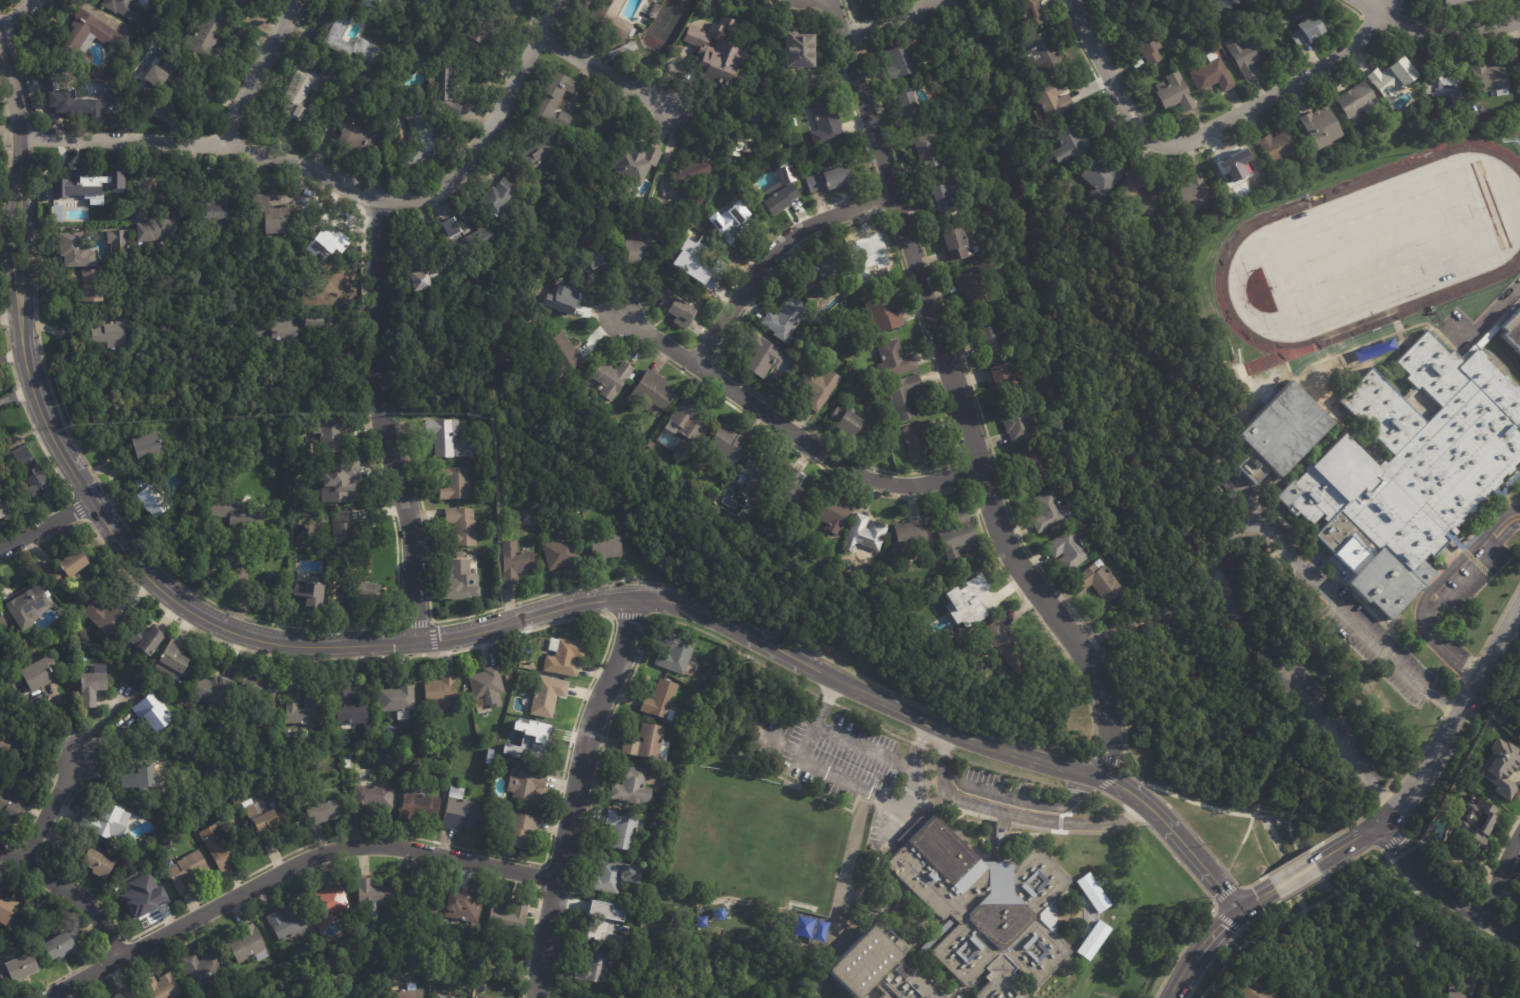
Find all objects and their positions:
road: (938, 0)
building: (1229, 1)
building: (1163, 2)
building: (1446, 2)
building: (250, 3)
building: (1128, 3)
building: (377, 5)
building: (125, 8)
building: (656, 10)
building: (1037, 11)
road: (15, 15)
building: (613, 18)
road: (892, 20)
building: (476, 25)
road: (1441, 25)
building: (1307, 30)
building: (207, 35)
building: (89, 36)
building: (340, 38)
building: (764, 40)
building: (1214, 46)
building: (1145, 47)
building: (801, 49)
building: (624, 50)
building: (720, 50)
building: (1046, 50)
building: (1243, 54)
building: (903, 61)
building: (1518, 69)
road: (258, 71)
road: (606, 73)
building: (1210, 73)
building: (1390, 76)
building: (1490, 78)
building: (1444, 85)
building: (446, 90)
building: (158, 91)
building: (302, 91)
building: (1173, 93)
building: (94, 95)
building: (1056, 99)
building: (558, 101)
building: (1356, 102)
road: (15, 105)
building: (913, 110)
building: (826, 123)
building: (1319, 127)
road: (489, 129)
road: (1210, 130)
building: (361, 137)
building: (420, 138)
building: (738, 141)
road: (201, 142)
building: (1074, 142)
building: (1273, 146)
building: (931, 150)
building: (538, 158)
building: (633, 165)
building: (1236, 168)
building: (1104, 178)
building: (693, 179)
building: (832, 179)
building: (78, 185)
building: (1188, 193)
building: (569, 195)
building: (1140, 196)
building: (498, 198)
building: (781, 198)
building: (942, 199)
building: (603, 207)
building: (218, 210)
building: (269, 215)
building: (733, 222)
building: (157, 225)
building: (454, 228)
building: (487, 238)
road: (9, 240)
road: (27, 240)
building: (120, 243)
building: (330, 243)
building: (961, 244)
park: (1378, 246)
road: (776, 249)
building: (77, 251)
building: (638, 254)
building: (700, 255)
building: (879, 255)
park: (1225, 256)
building: (598, 259)
building: (423, 267)
building: (826, 271)
road: (377, 281)
building: (89, 283)
building: (978, 283)
building: (566, 299)
building: (680, 310)
road: (1489, 311)
road: (10, 313)
building: (886, 313)
building: (787, 320)
building: (317, 323)
building: (279, 330)
building: (115, 335)
building: (993, 335)
building: (848, 353)
building: (565, 356)
building: (764, 357)
building: (895, 362)
road: (380, 375)
building: (614, 378)
building: (1003, 379)
building: (820, 387)
building: (654, 391)
road: (962, 395)
road: (17, 396)
building: (907, 397)
building: (1019, 423)
building: (852, 424)
building: (689, 429)
road: (798, 432)
building: (1279, 432)
building: (334, 435)
building: (445, 436)
building: (921, 441)
building: (730, 446)
building: (145, 449)
building: (1417, 464)
building: (1039, 466)
building: (31, 472)
building: (759, 476)
building: (336, 478)
building: (456, 484)
building: (793, 494)
building: (150, 497)
building: (5, 505)
road: (407, 511)
building: (1056, 513)
building: (834, 514)
building: (241, 516)
building: (515, 518)
road: (46, 526)
building: (464, 527)
building: (343, 530)
building: (751, 530)
building: (866, 535)
building: (912, 535)
building: (959, 536)
building: (607, 547)
building: (1073, 550)
building: (461, 555)
building: (563, 555)
building: (516, 563)
building: (68, 569)
building: (1102, 581)
building: (462, 582)
building: (311, 595)
road: (1439, 597)
building: (363, 598)
building: (981, 599)
road: (580, 602)
building: (28, 608)
building: (105, 618)
building: (2, 624)
road: (1363, 625)
building: (146, 639)
building: (1008, 646)
building: (677, 654)
building: (565, 658)
building: (174, 660)
building: (36, 677)
building: (489, 687)
building: (93, 690)
building: (215, 691)
building: (441, 693)
building: (260, 695)
building: (548, 697)
building: (400, 699)
building: (664, 701)
building: (1516, 705)
building: (350, 708)
building: (305, 711)
building: (155, 714)
road: (1455, 726)
building: (1, 727)
road: (837, 737)
building: (534, 740)
building: (5, 744)
building: (649, 744)
road: (920, 744)
building: (392, 762)
building: (348, 764)
building: (1500, 767)
building: (142, 779)
building: (488, 779)
road: (853, 782)
building: (632, 785)
building: (527, 788)
road: (590, 797)
building: (372, 801)
road: (1203, 803)
road: (1031, 804)
building: (11, 807)
building: (420, 808)
road: (48, 811)
building: (461, 812)
building: (324, 814)
road: (1014, 814)
road: (1269, 816)
building: (107, 822)
building: (267, 824)
building: (1005, 824)
building: (1475, 825)
road: (1188, 827)
building: (624, 829)
building: (521, 831)
road: (1353, 842)
road: (1241, 844)
building: (223, 847)
building: (653, 852)
road: (1301, 853)
road: (295, 859)
building: (99, 865)
building: (186, 871)
building: (616, 875)
road: (1293, 878)
road: (1501, 879)
road: (69, 892)
building: (1091, 893)
road: (1441, 893)
building: (376, 894)
building: (147, 895)
building: (331, 901)
building: (421, 901)
building: (465, 906)
building: (7, 909)
traffic signals: (1240, 912)
building: (509, 919)
building: (966, 921)
building: (287, 922)
building: (606, 923)
building: (1087, 934)
building: (1421, 935)
road: (1210, 943)
building: (249, 945)
building: (64, 946)
building: (596, 966)
building: (204, 968)
building: (18, 970)
building: (469, 983)
building: (1464, 985)
building: (162, 987)
building: (1247, 990)
building: (405, 993)
building: (1056, 993)
building: (1516, 993)
building: (127, 994)
building: (352, 995)
building: (445, 996)
building: (371, 997)

